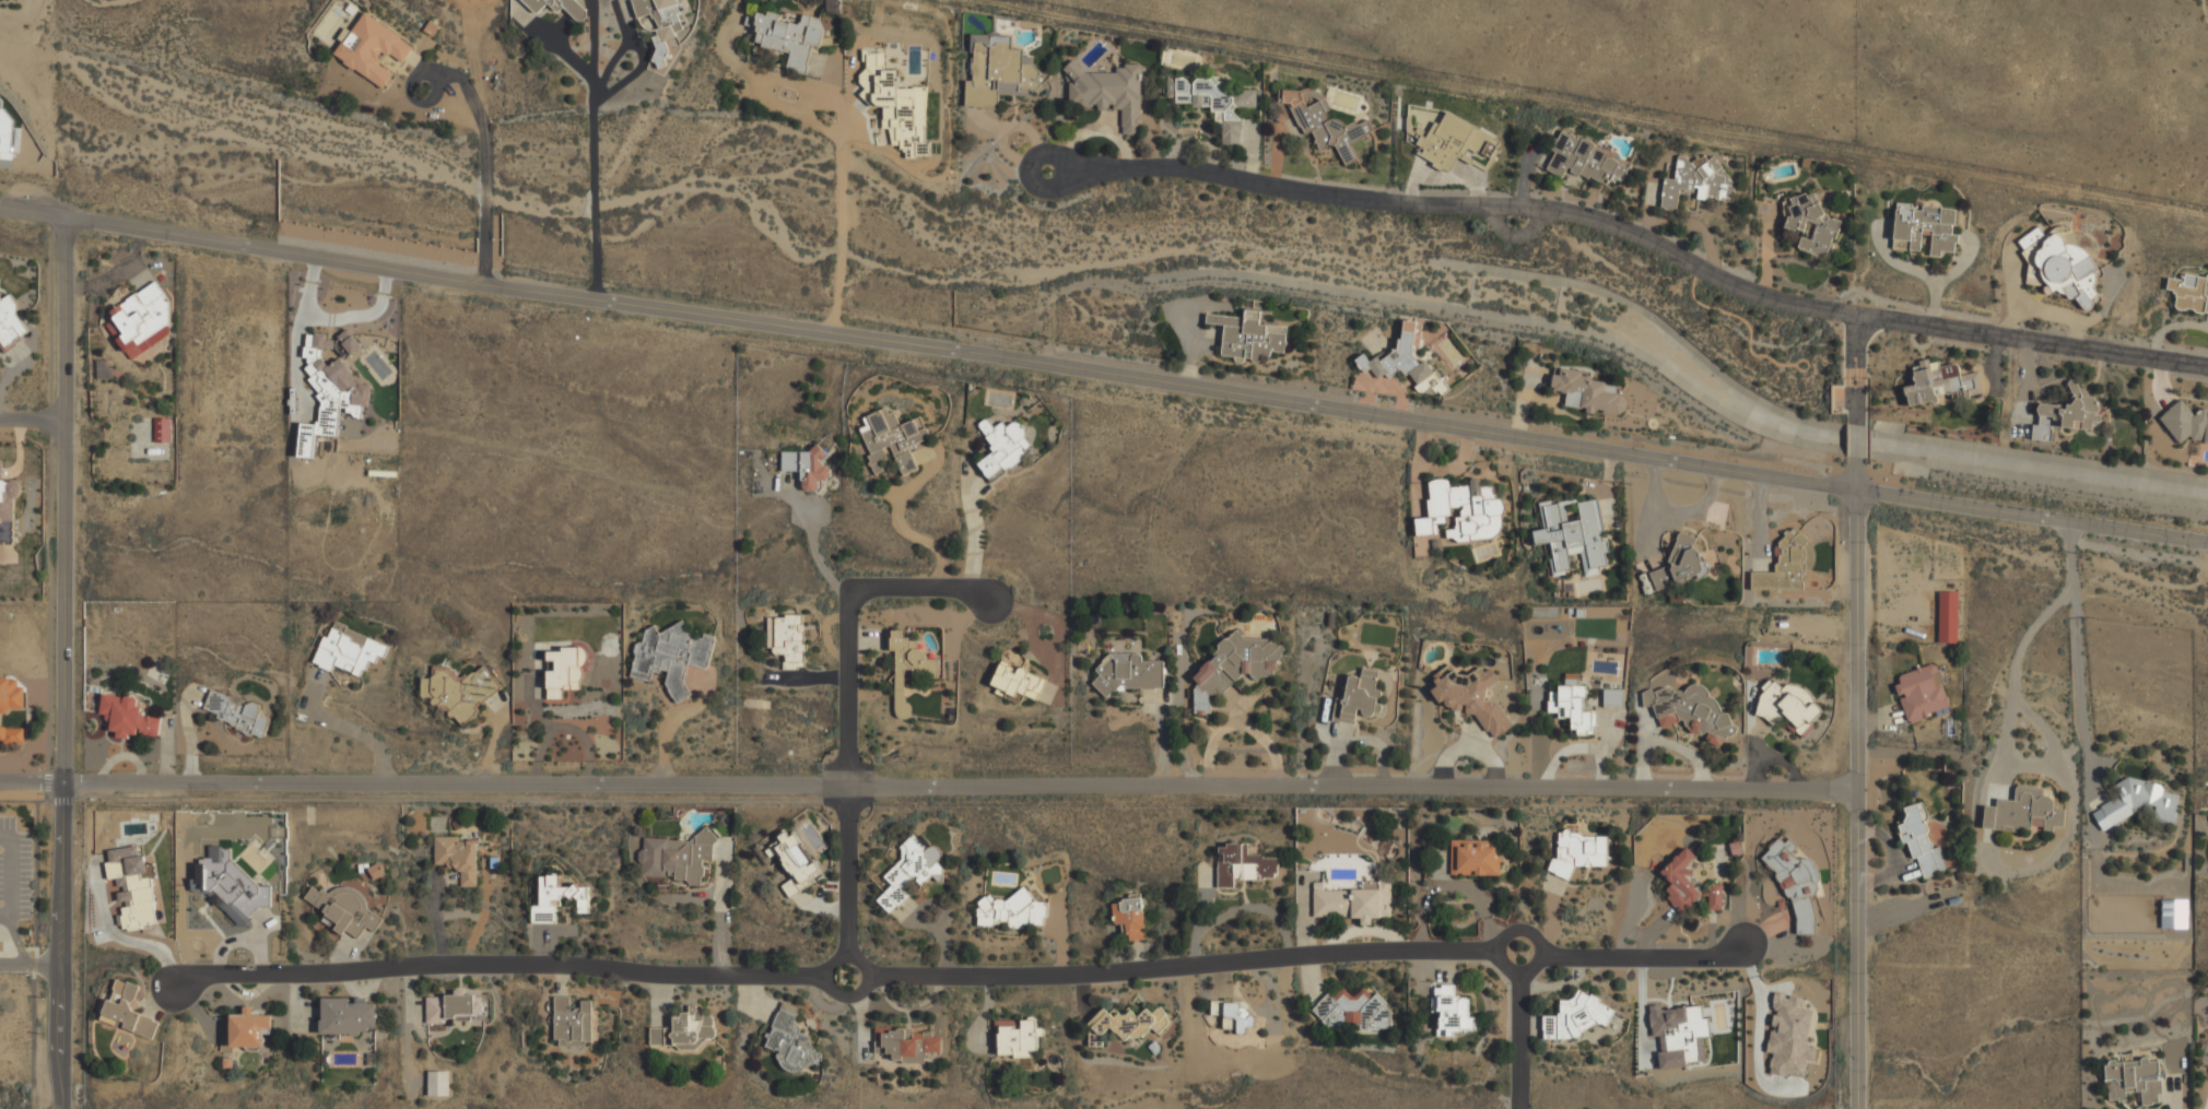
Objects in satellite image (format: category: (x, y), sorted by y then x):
building: (559, 7)
building: (661, 14)
building: (789, 37)
building: (373, 48)
road: (425, 64)
building: (998, 71)
building: (1108, 92)
building: (1214, 102)
building: (896, 105)
building: (1326, 125)
road: (483, 140)
building: (1453, 142)
road: (587, 151)
building: (1585, 160)
road: (842, 180)
building: (1696, 180)
building: (1810, 224)
building: (1924, 227)
road: (1634, 231)
road: (481, 261)
building: (2059, 266)
building: (2189, 292)
building: (141, 321)
building: (10, 325)
building: (1248, 335)
building: (1406, 362)
road: (1858, 367)
road: (1103, 379)
building: (1939, 381)
building: (331, 387)
building: (1587, 391)
building: (2066, 414)
road: (32, 422)
building: (2186, 423)
building: (162, 429)
building: (891, 438)
road: (1859, 440)
building: (1003, 446)
building: (806, 467)
building: (10, 509)
building: (1463, 510)
building: (1573, 536)
road: (973, 540)
building: (1678, 563)
building: (1784, 564)
building: (1947, 617)
building: (787, 639)
building: (348, 650)
road: (2078, 653)
building: (670, 656)
road: (62, 665)
building: (907, 665)
building: (1234, 666)
building: (1127, 673)
building: (1015, 683)
building: (457, 691)
building: (1922, 694)
building: (1470, 696)
building: (1358, 697)
building: (1612, 697)
building: (1571, 705)
building: (1787, 706)
road: (847, 709)
building: (1689, 709)
building: (12, 711)
building: (237, 713)
building: (127, 716)
road: (1864, 782)
road: (931, 783)
building: (2136, 802)
building: (2023, 812)
building: (1921, 840)
building: (1578, 852)
building: (457, 857)
building: (674, 857)
building: (1475, 858)
building: (794, 863)
building: (1242, 865)
parking lot: (13, 870)
building: (376, 870)
building: (909, 870)
road: (10, 877)
building: (1680, 881)
building: (1794, 881)
building: (228, 885)
building: (132, 887)
building: (1715, 896)
building: (556, 899)
building: (1353, 901)
building: (344, 909)
building: (1011, 910)
building: (2173, 913)
building: (1129, 917)
road: (19, 942)
road: (31, 965)
road: (961, 976)
building: (455, 1007)
building: (127, 1010)
building: (1352, 1010)
building: (1449, 1010)
building: (347, 1015)
building: (1232, 1015)
building: (1575, 1016)
building: (572, 1023)
building: (1129, 1023)
building: (248, 1028)
road: (1523, 1029)
building: (683, 1030)
building: (1677, 1033)
building: (1017, 1035)
building: (1788, 1035)
building: (790, 1040)
building: (907, 1043)
building: (2133, 1079)
building: (438, 1083)

